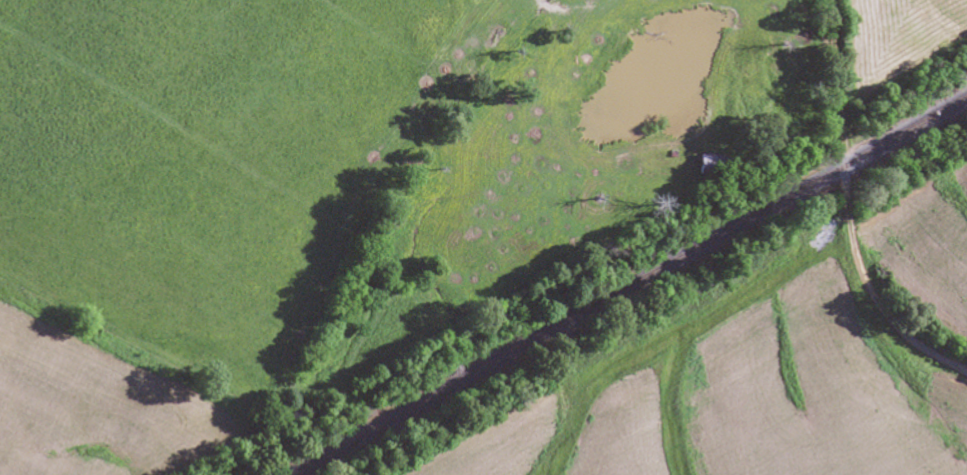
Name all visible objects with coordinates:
building: (707, 167)
road: (845, 213)
railway: (629, 285)

